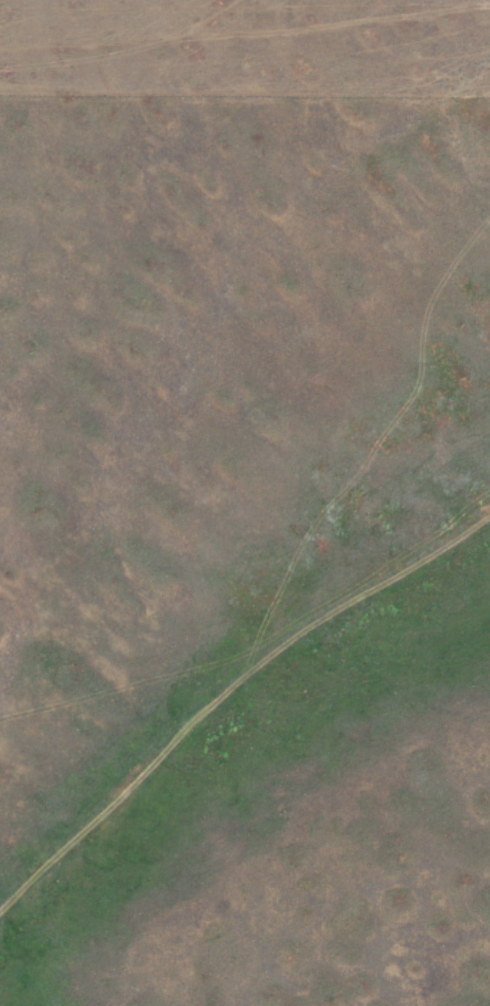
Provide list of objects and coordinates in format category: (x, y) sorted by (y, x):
road: (226, 684)

